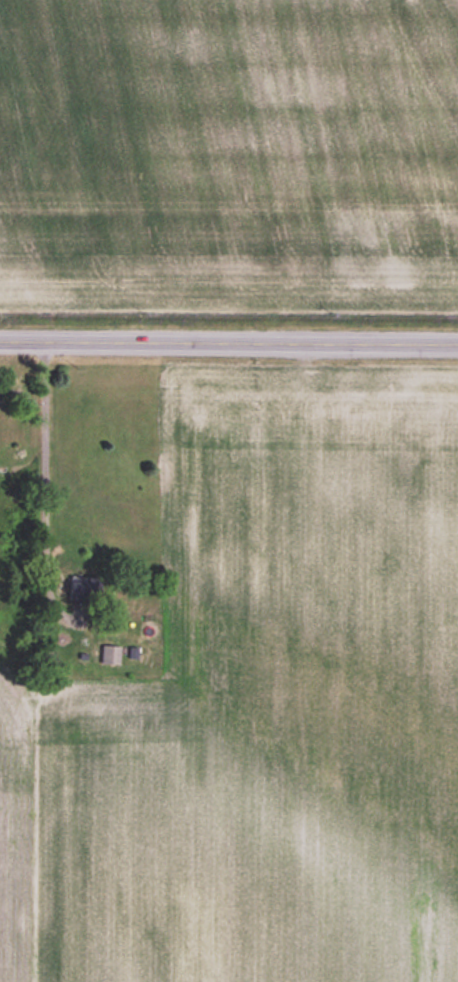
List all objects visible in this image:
crop: (229, 155)
road: (229, 344)
road: (43, 460)
building: (83, 588)
building: (110, 655)

